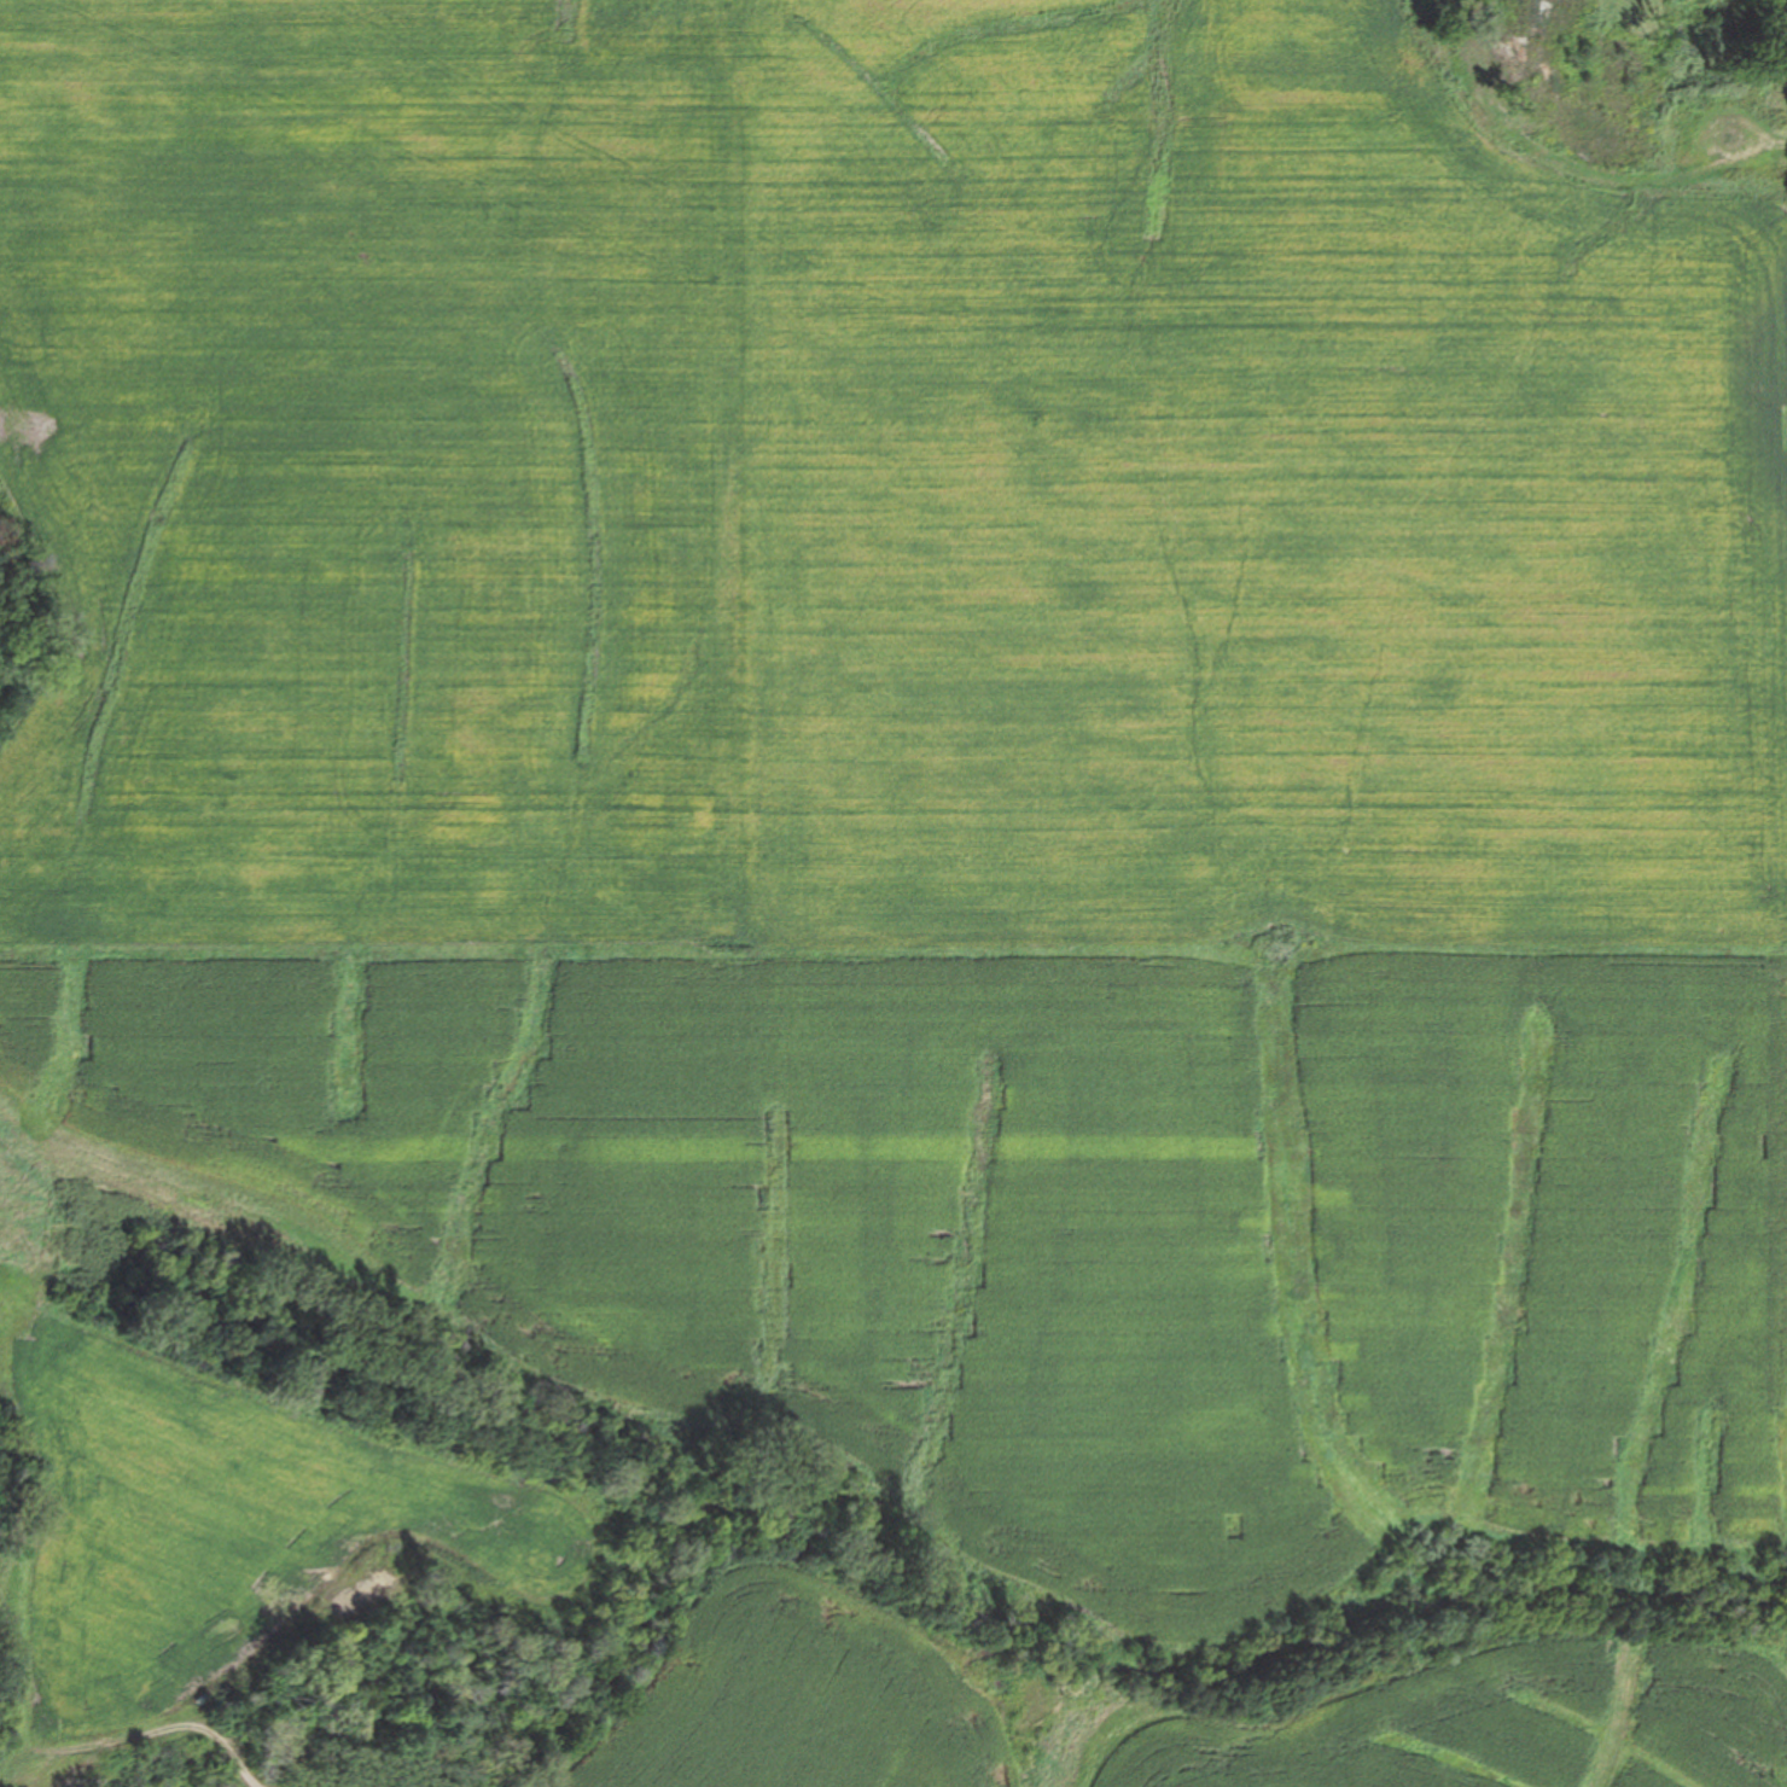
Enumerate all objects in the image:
road: (19, 1769)
road: (121, 1781)

